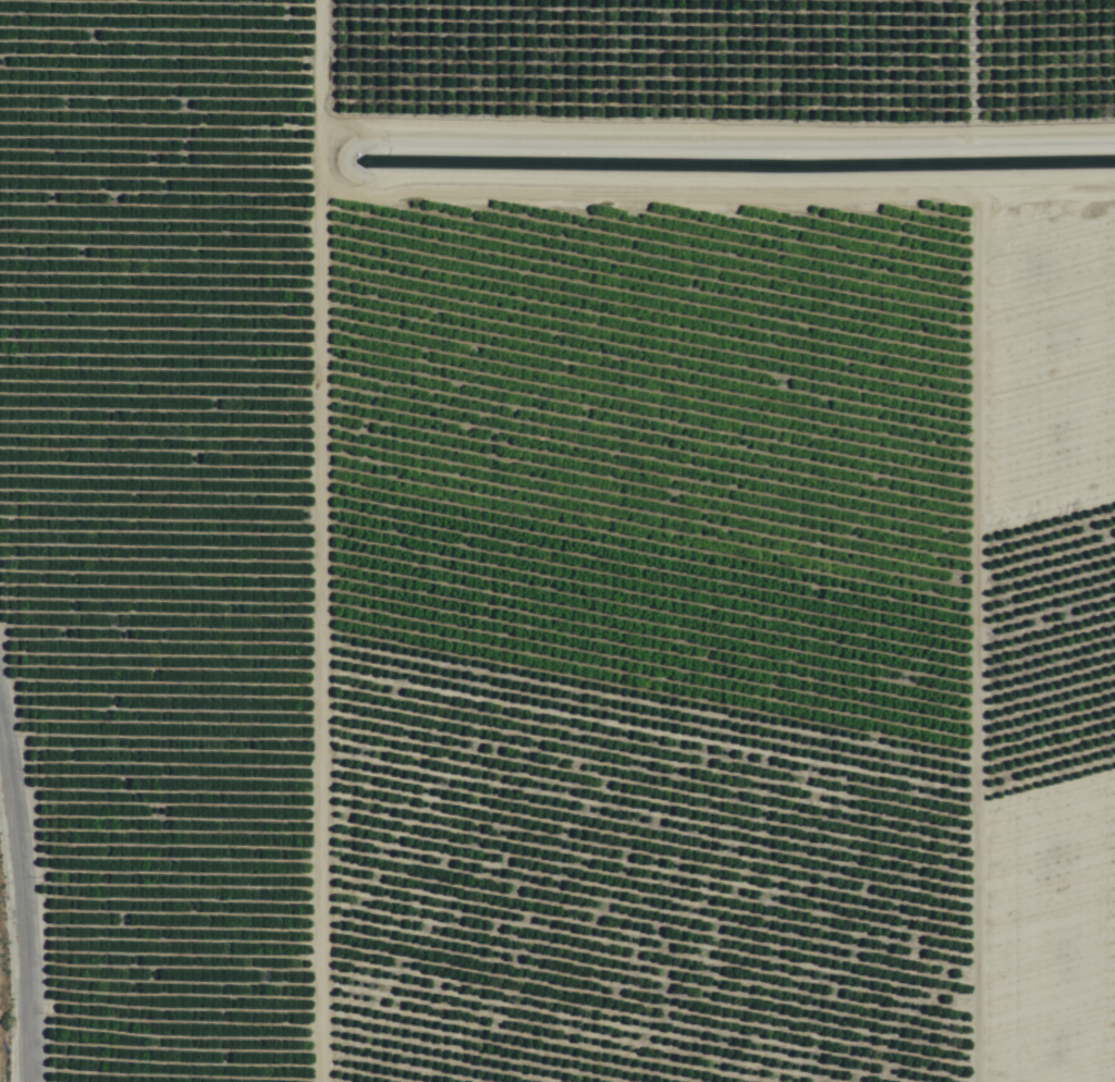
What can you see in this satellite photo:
building: (1054, 357)
building: (215, 411)
crop: (557, 540)
road: (24, 901)

